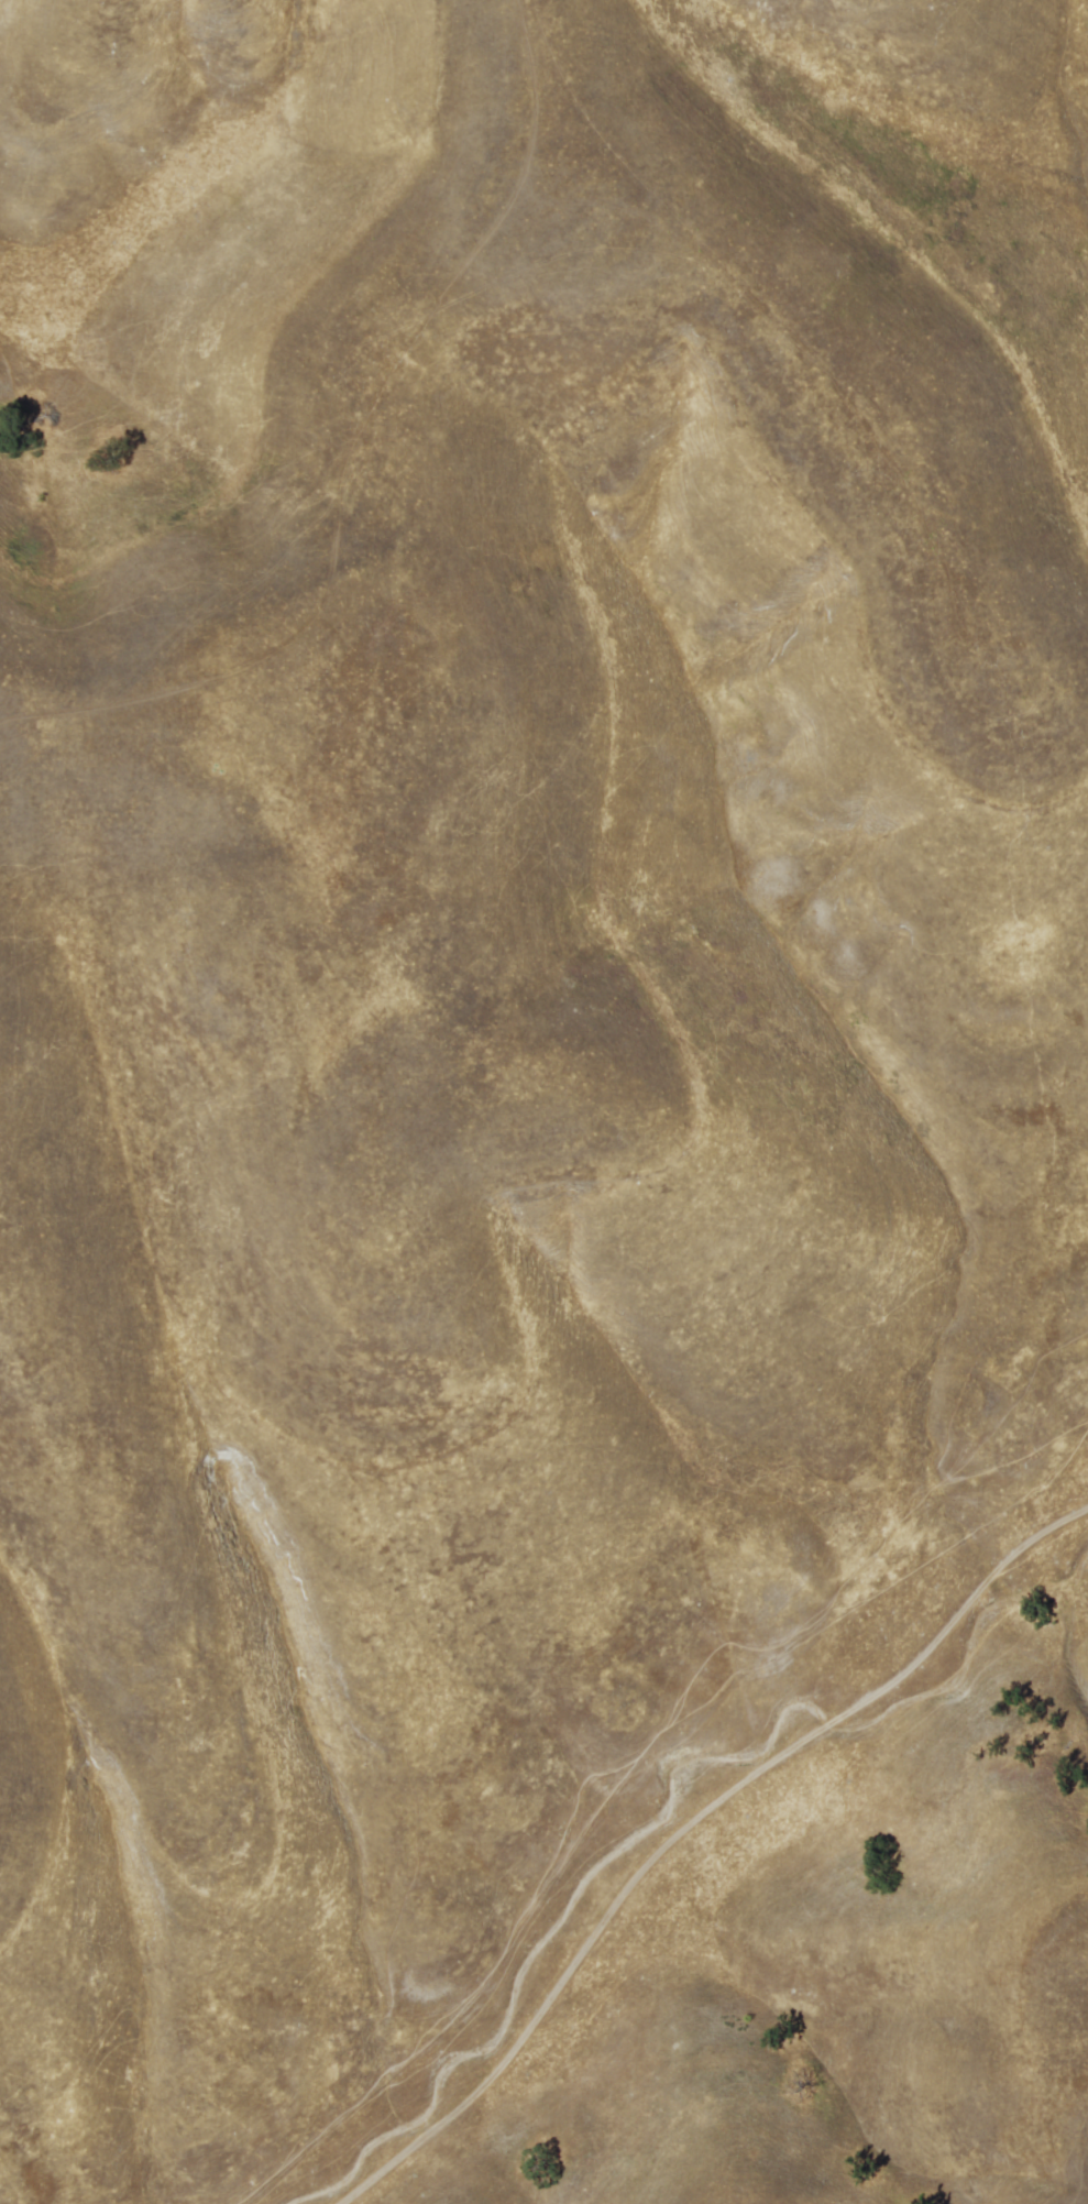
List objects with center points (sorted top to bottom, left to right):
road: (688, 1825)

